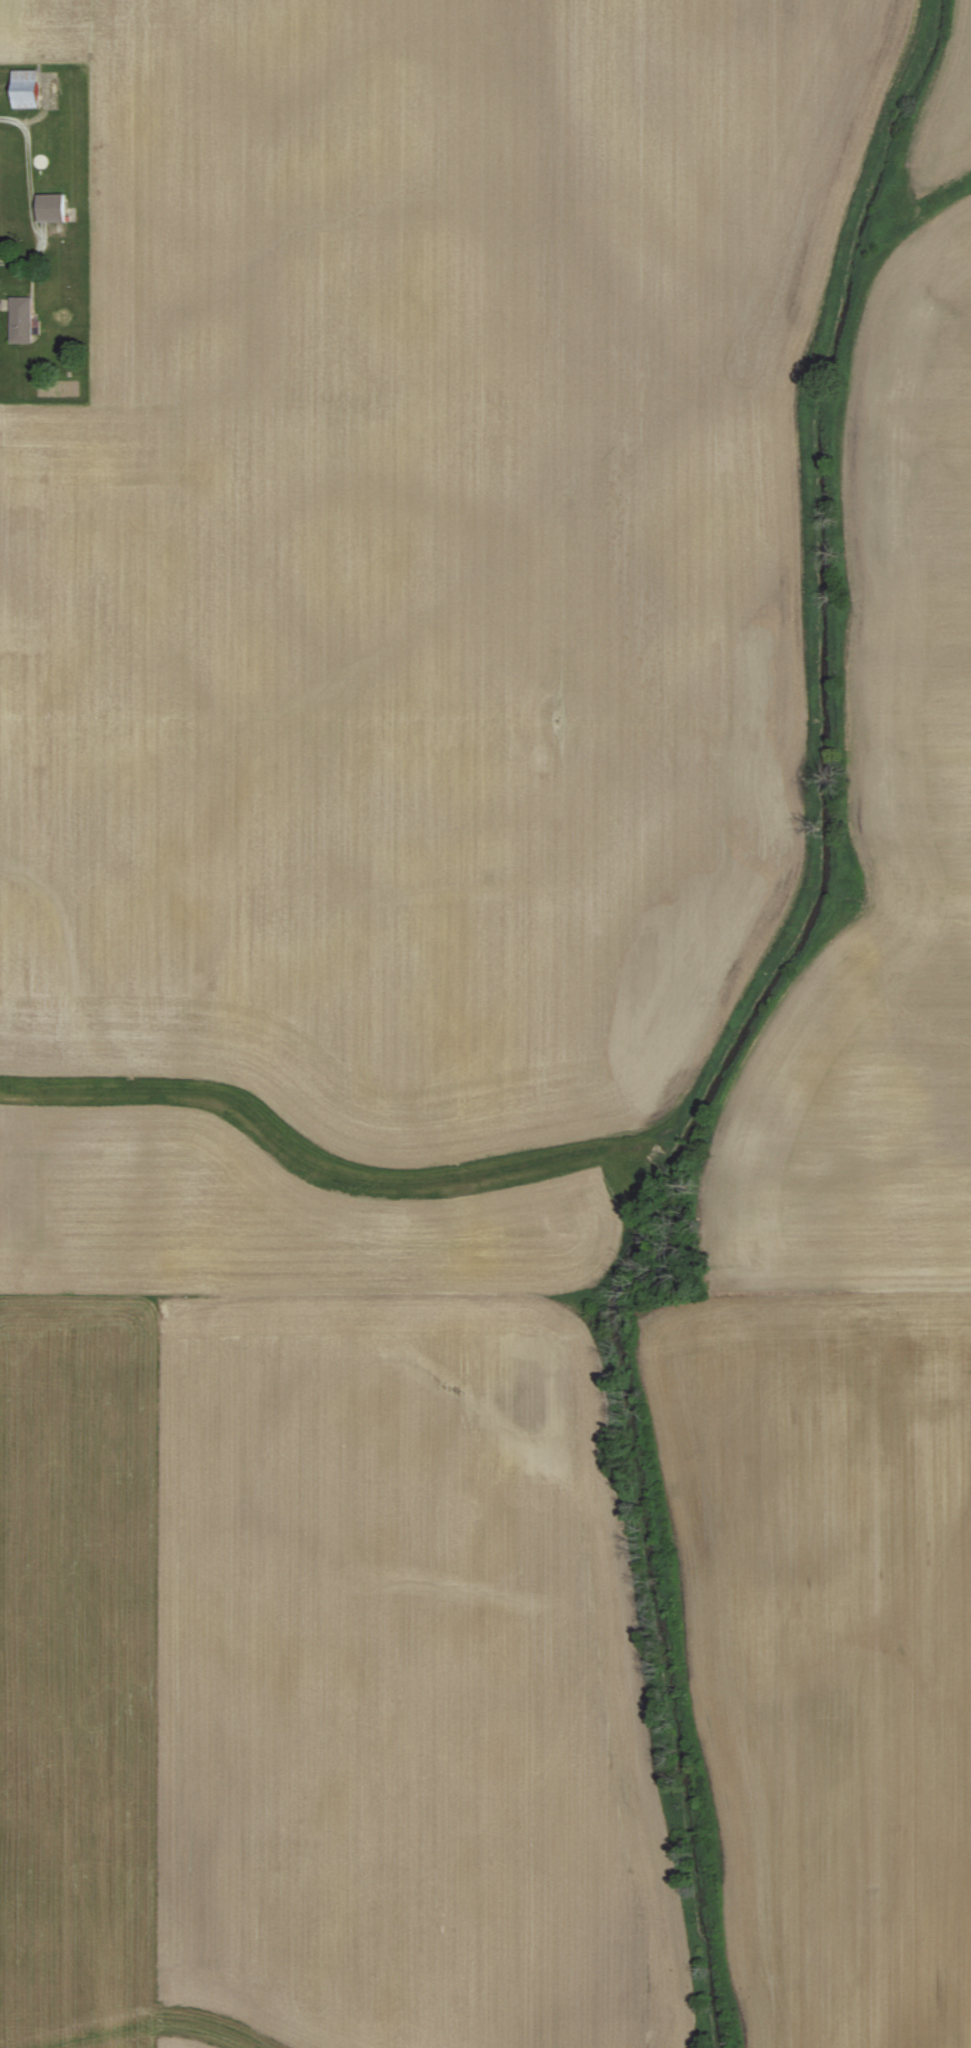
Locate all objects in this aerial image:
building: (26, 91)
road: (32, 198)
building: (51, 208)
road: (2, 305)
building: (22, 321)

